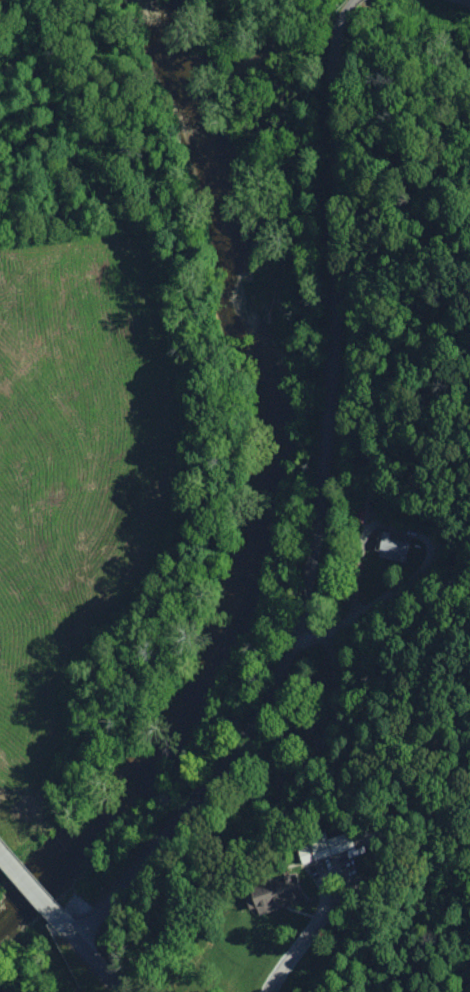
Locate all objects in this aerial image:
road: (456, 4)
road: (351, 490)
building: (393, 547)
road: (4, 812)
building: (326, 848)
road: (39, 857)
building: (282, 893)
road: (305, 937)
road: (91, 953)

